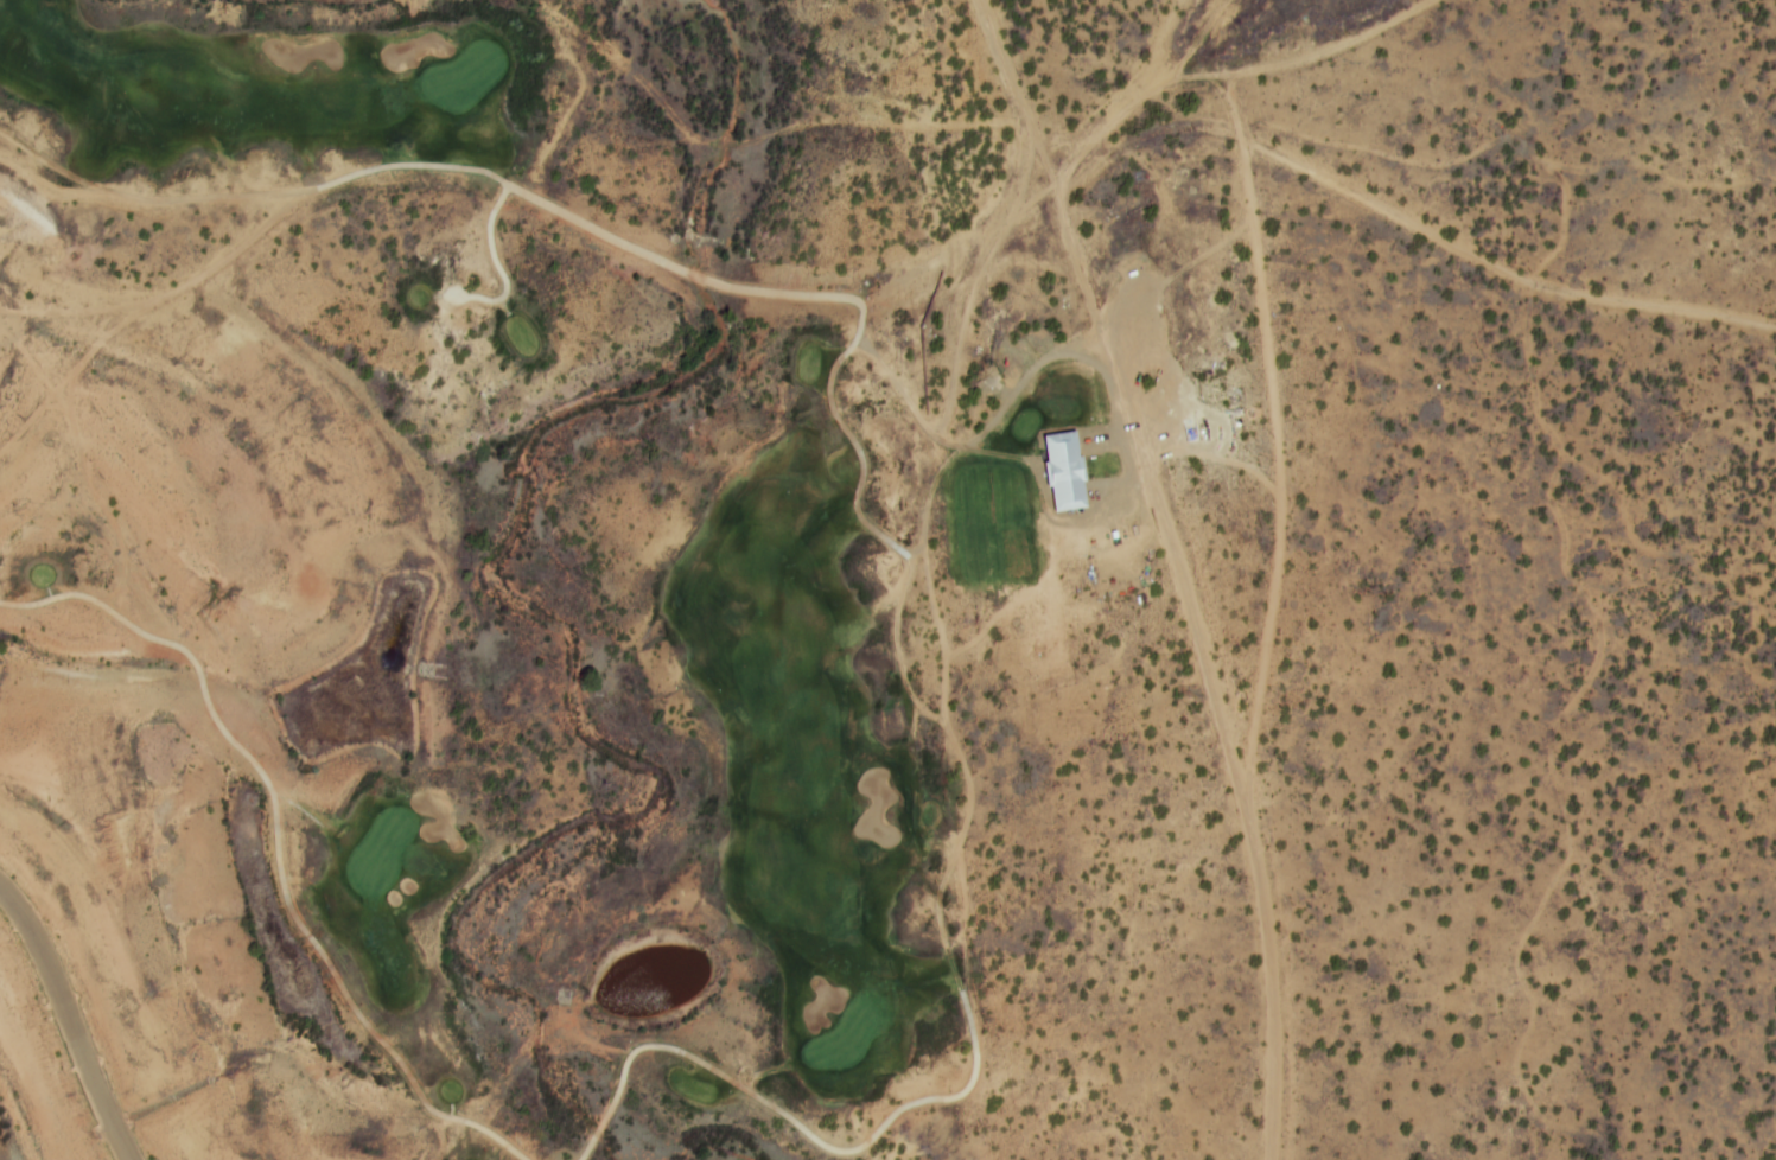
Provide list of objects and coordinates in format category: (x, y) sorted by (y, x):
road: (1021, 101)
road: (565, 215)
building: (1189, 314)
building: (1062, 472)
park: (546, 586)
road: (1210, 673)
road: (279, 840)
road: (70, 1021)
road: (772, 1108)

